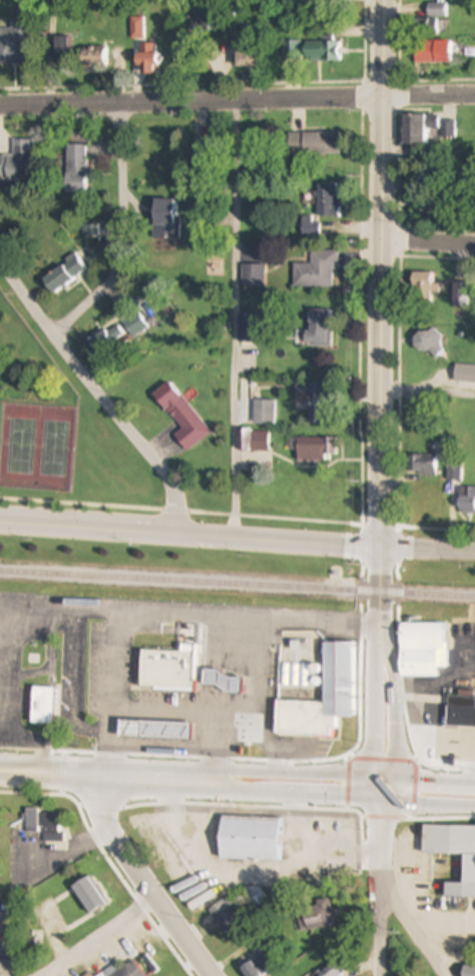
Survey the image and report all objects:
building: (16, 44)
building: (63, 52)
building: (431, 53)
building: (246, 58)
building: (93, 60)
building: (145, 60)
road: (220, 82)
road: (237, 101)
building: (418, 128)
building: (314, 145)
building: (18, 164)
building: (76, 169)
building: (327, 201)
building: (427, 206)
building: (162, 220)
road: (123, 234)
road: (427, 242)
building: (317, 271)
building: (63, 274)
building: (420, 289)
road: (25, 300)
road: (357, 312)
road: (235, 319)
building: (246, 329)
building: (320, 329)
building: (107, 341)
building: (428, 343)
road: (381, 393)
road: (427, 394)
building: (318, 410)
building: (264, 413)
building: (181, 417)
road: (129, 432)
building: (253, 441)
park: (37, 447)
building: (315, 450)
road: (400, 464)
building: (423, 465)
building: (467, 500)
road: (180, 534)
road: (417, 550)
railway: (237, 585)
road: (190, 618)
road: (306, 621)
building: (422, 651)
road: (363, 655)
railway: (234, 671)
building: (168, 672)
building: (223, 683)
road: (433, 685)
building: (325, 698)
building: (43, 707)
building: (460, 712)
building: (155, 732)
road: (180, 756)
road: (191, 779)
road: (429, 788)
building: (43, 825)
building: (250, 839)
building: (163, 854)
building: (453, 855)
road: (140, 875)
road: (381, 880)
building: (90, 896)
building: (258, 903)
building: (231, 913)
building: (314, 917)
road: (413, 931)
road: (99, 937)
road: (454, 960)
building: (257, 968)
building: (333, 970)
building: (129, 971)
building: (469, 972)
road: (1, 973)

